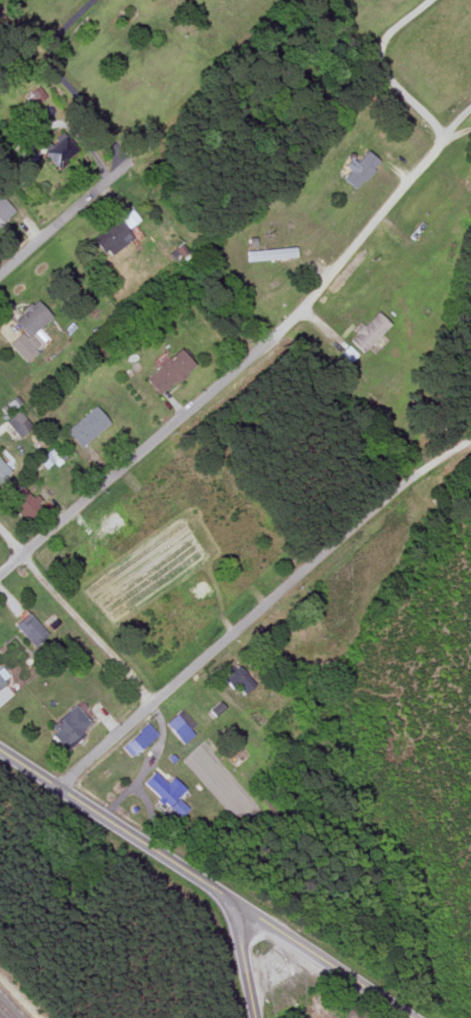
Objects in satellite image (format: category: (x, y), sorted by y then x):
road: (384, 67)
road: (60, 77)
road: (457, 134)
building: (58, 149)
building: (28, 153)
building: (358, 169)
building: (4, 211)
road: (63, 219)
building: (113, 234)
building: (179, 253)
building: (269, 255)
building: (26, 328)
building: (368, 332)
road: (259, 345)
building: (167, 371)
building: (17, 423)
building: (85, 426)
building: (49, 458)
building: (2, 470)
building: (22, 501)
building: (109, 522)
road: (10, 541)
road: (10, 563)
road: (260, 607)
road: (86, 628)
building: (29, 629)
building: (236, 679)
building: (1, 681)
building: (66, 728)
building: (179, 728)
building: (137, 740)
road: (147, 765)
building: (166, 793)
road: (151, 812)
road: (118, 828)
road: (243, 961)
road: (326, 961)
railway: (6, 1010)
railway: (0, 1017)

